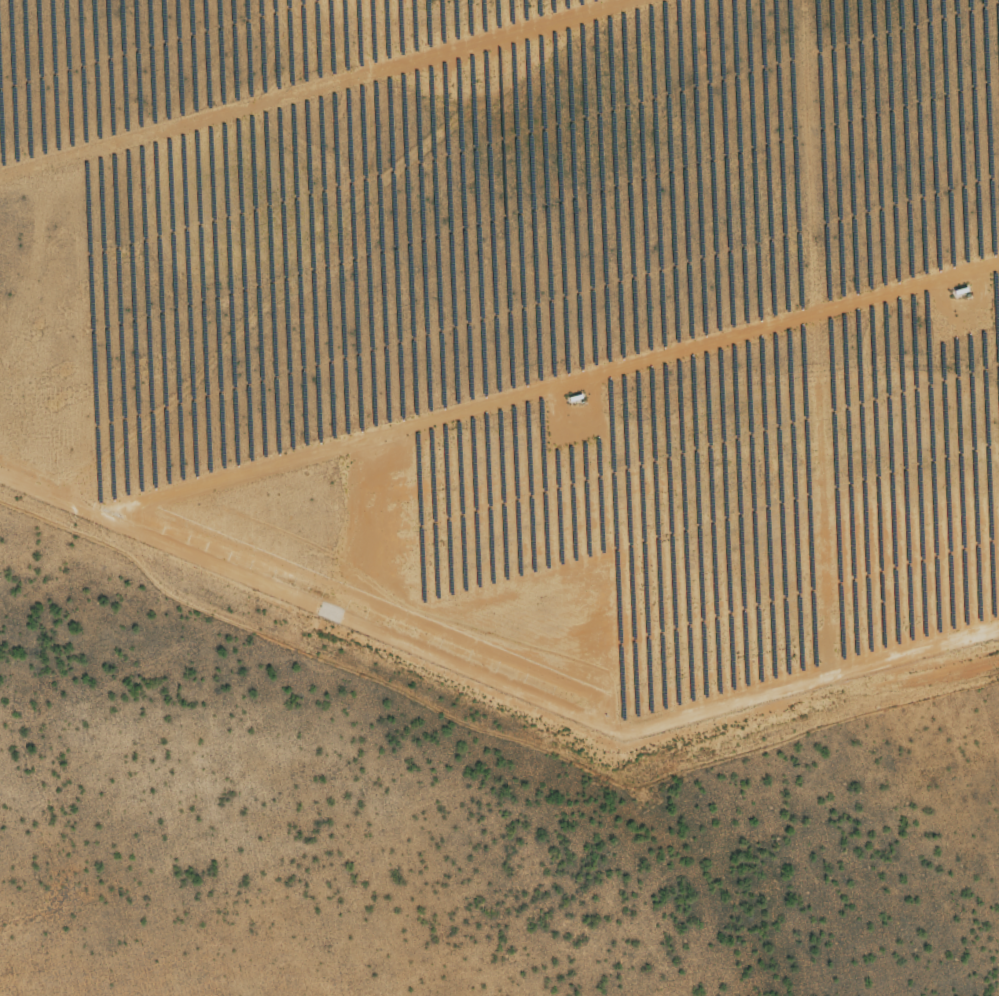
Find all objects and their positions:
solar farm: (525, 325)

